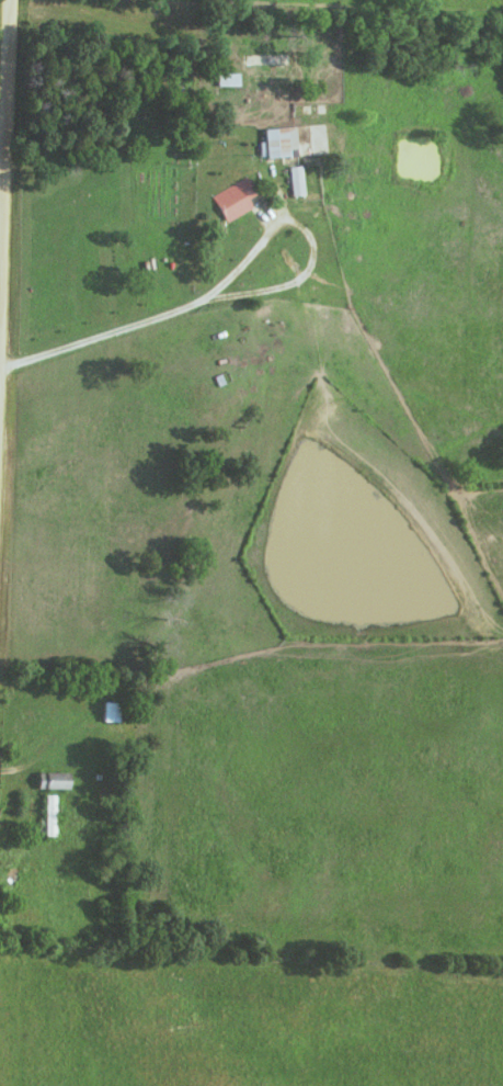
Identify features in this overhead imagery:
building: (228, 79)
building: (259, 81)
building: (282, 142)
building: (297, 181)
building: (236, 199)
road: (5, 212)
building: (111, 712)
building: (54, 780)
building: (48, 818)

